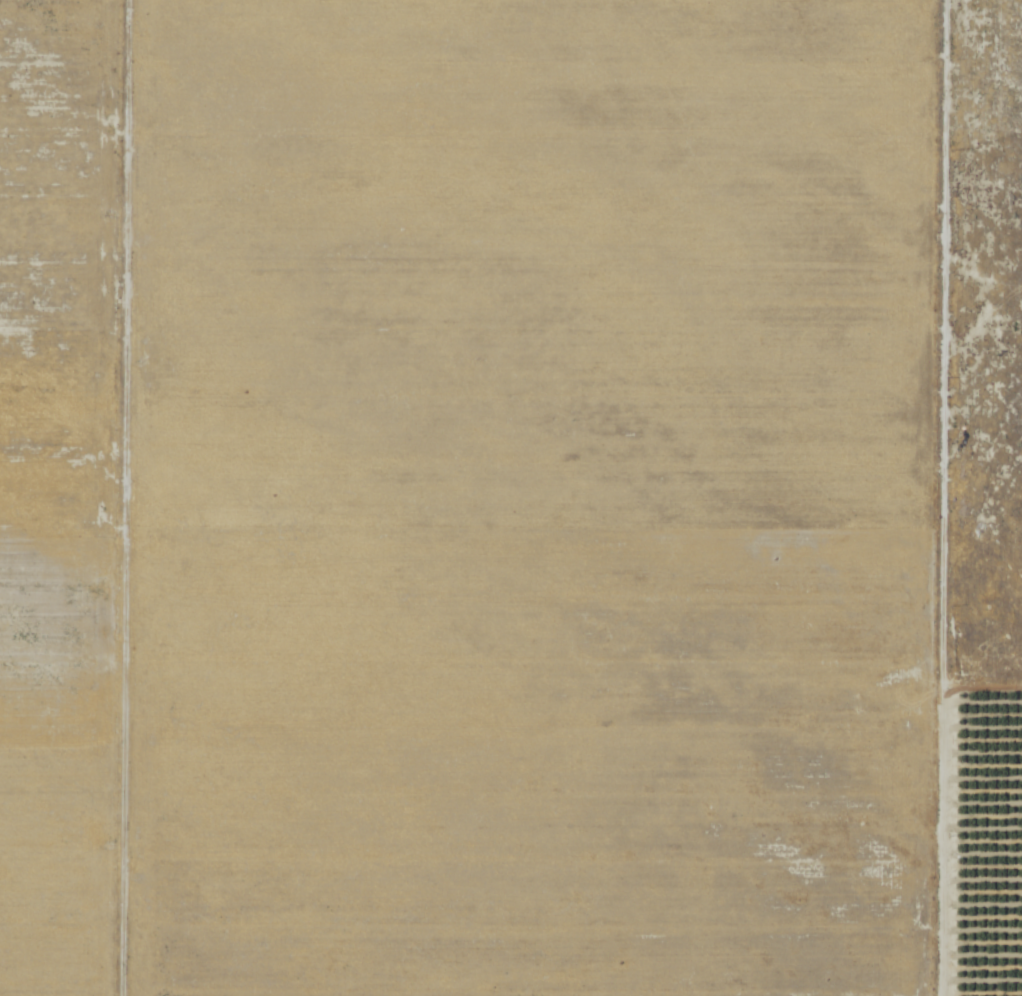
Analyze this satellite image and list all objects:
road: (121, 498)
road: (940, 498)
road: (979, 689)

